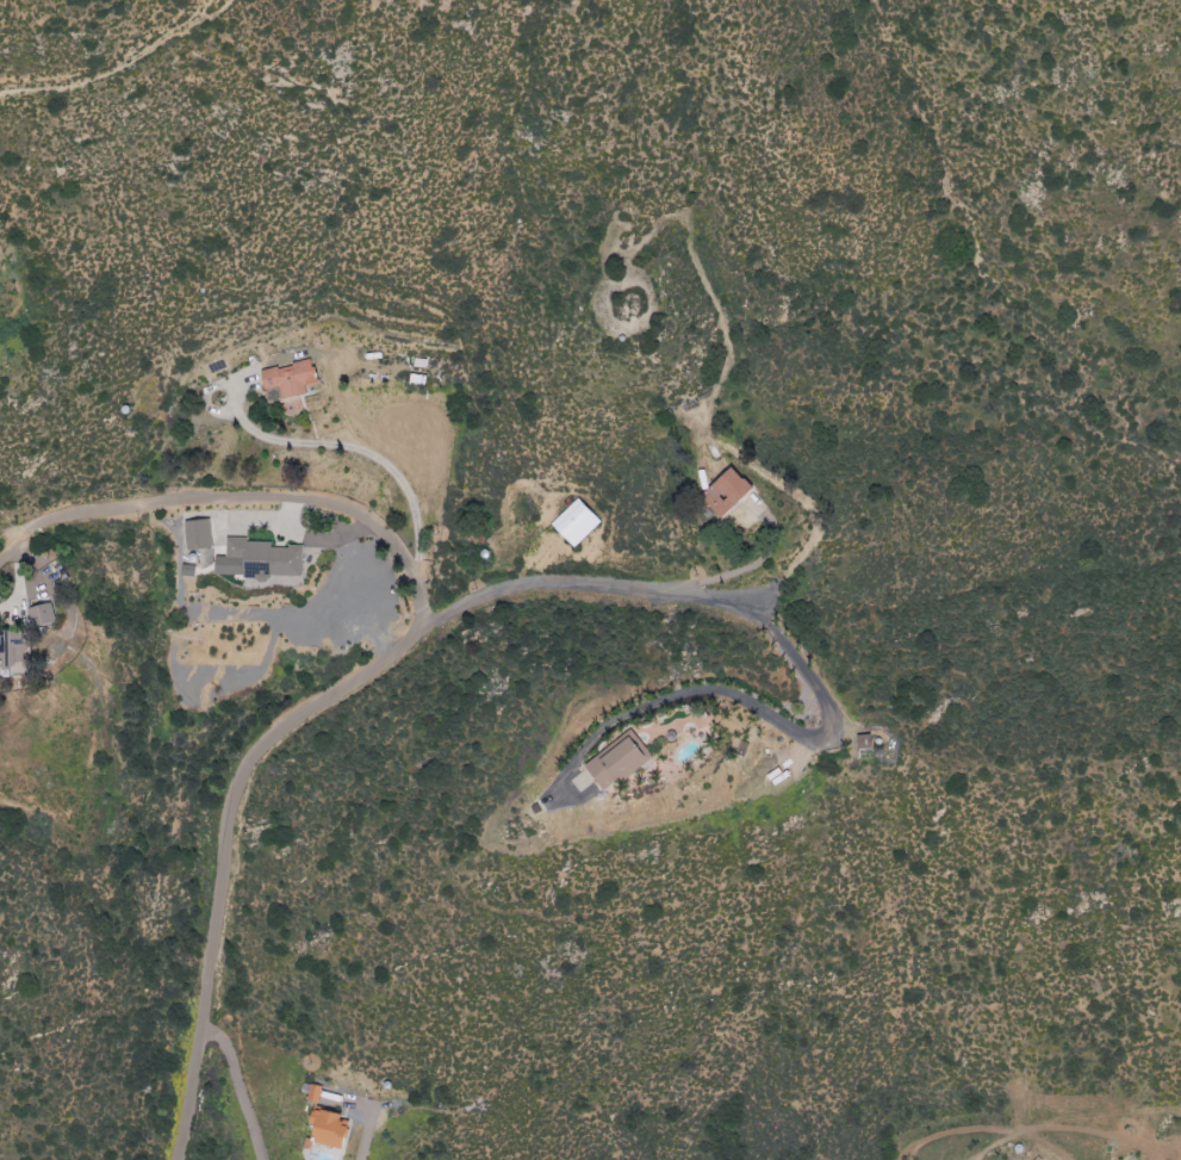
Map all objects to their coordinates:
building: (287, 379)
road: (362, 449)
building: (721, 494)
road: (242, 498)
building: (573, 523)
building: (195, 535)
road: (305, 538)
building: (256, 560)
road: (363, 587)
building: (41, 616)
road: (393, 652)
building: (11, 655)
road: (765, 711)
building: (603, 758)
road: (238, 1085)
building: (311, 1093)
building: (325, 1129)
road: (366, 1140)

